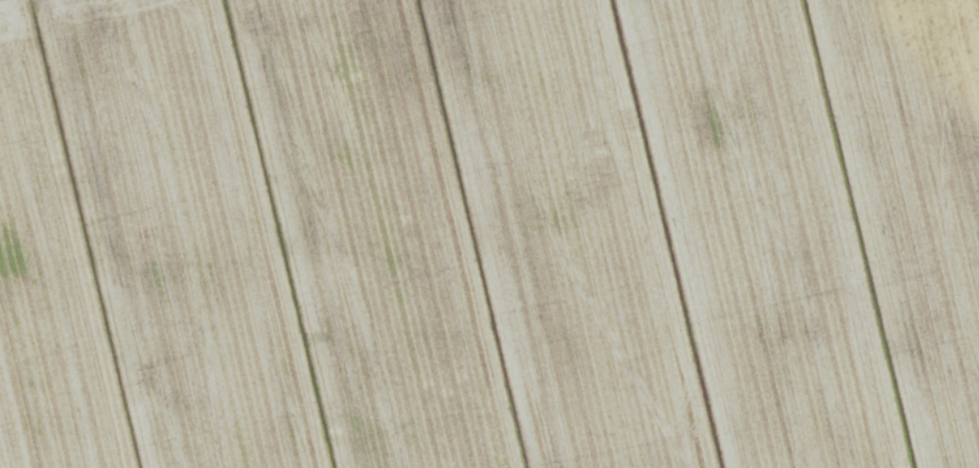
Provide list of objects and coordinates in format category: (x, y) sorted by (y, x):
crop: (489, 234)

